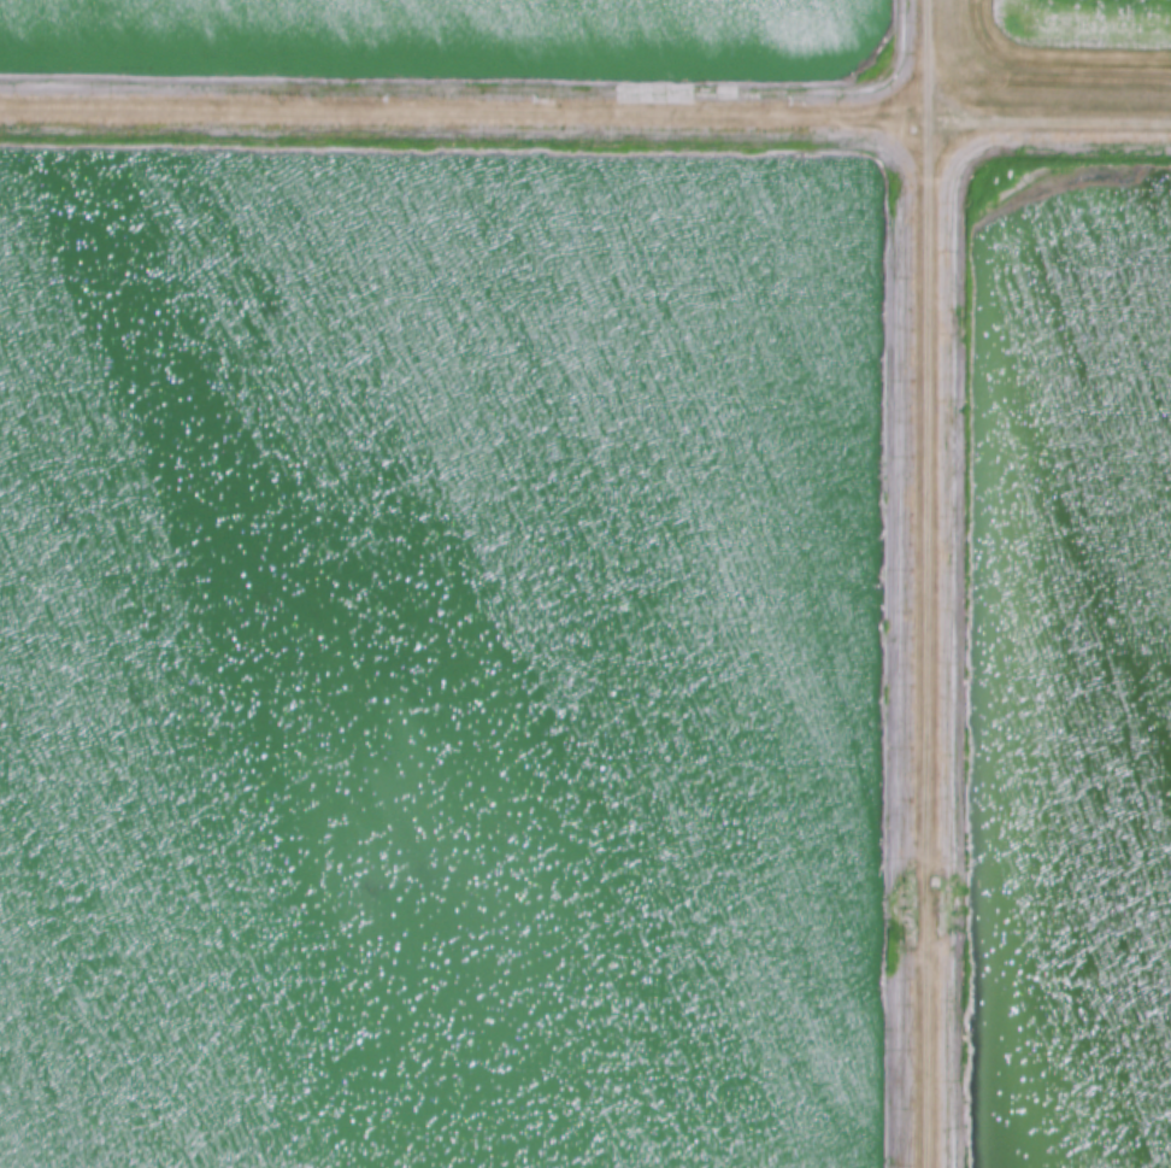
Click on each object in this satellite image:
road: (1049, 123)
wastewater plant: (585, 583)
road: (929, 583)

